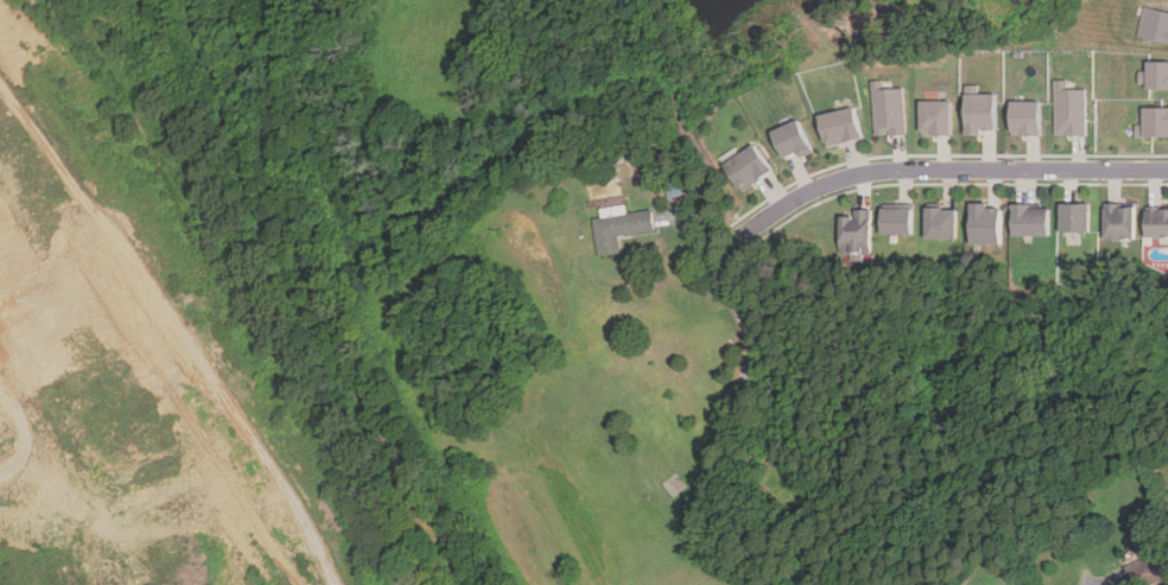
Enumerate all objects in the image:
building: (1154, 25)
building: (1154, 75)
building: (889, 109)
building: (1069, 109)
building: (980, 110)
road: (680, 114)
building: (936, 116)
building: (1025, 117)
building: (1154, 122)
building: (841, 126)
building: (793, 139)
building: (614, 154)
building: (749, 166)
road: (947, 168)
building: (1075, 216)
building: (897, 218)
building: (1119, 218)
building: (1030, 220)
building: (941, 221)
building: (1156, 221)
building: (986, 224)
building: (619, 228)
building: (854, 230)
road: (733, 405)
building: (1148, 571)

